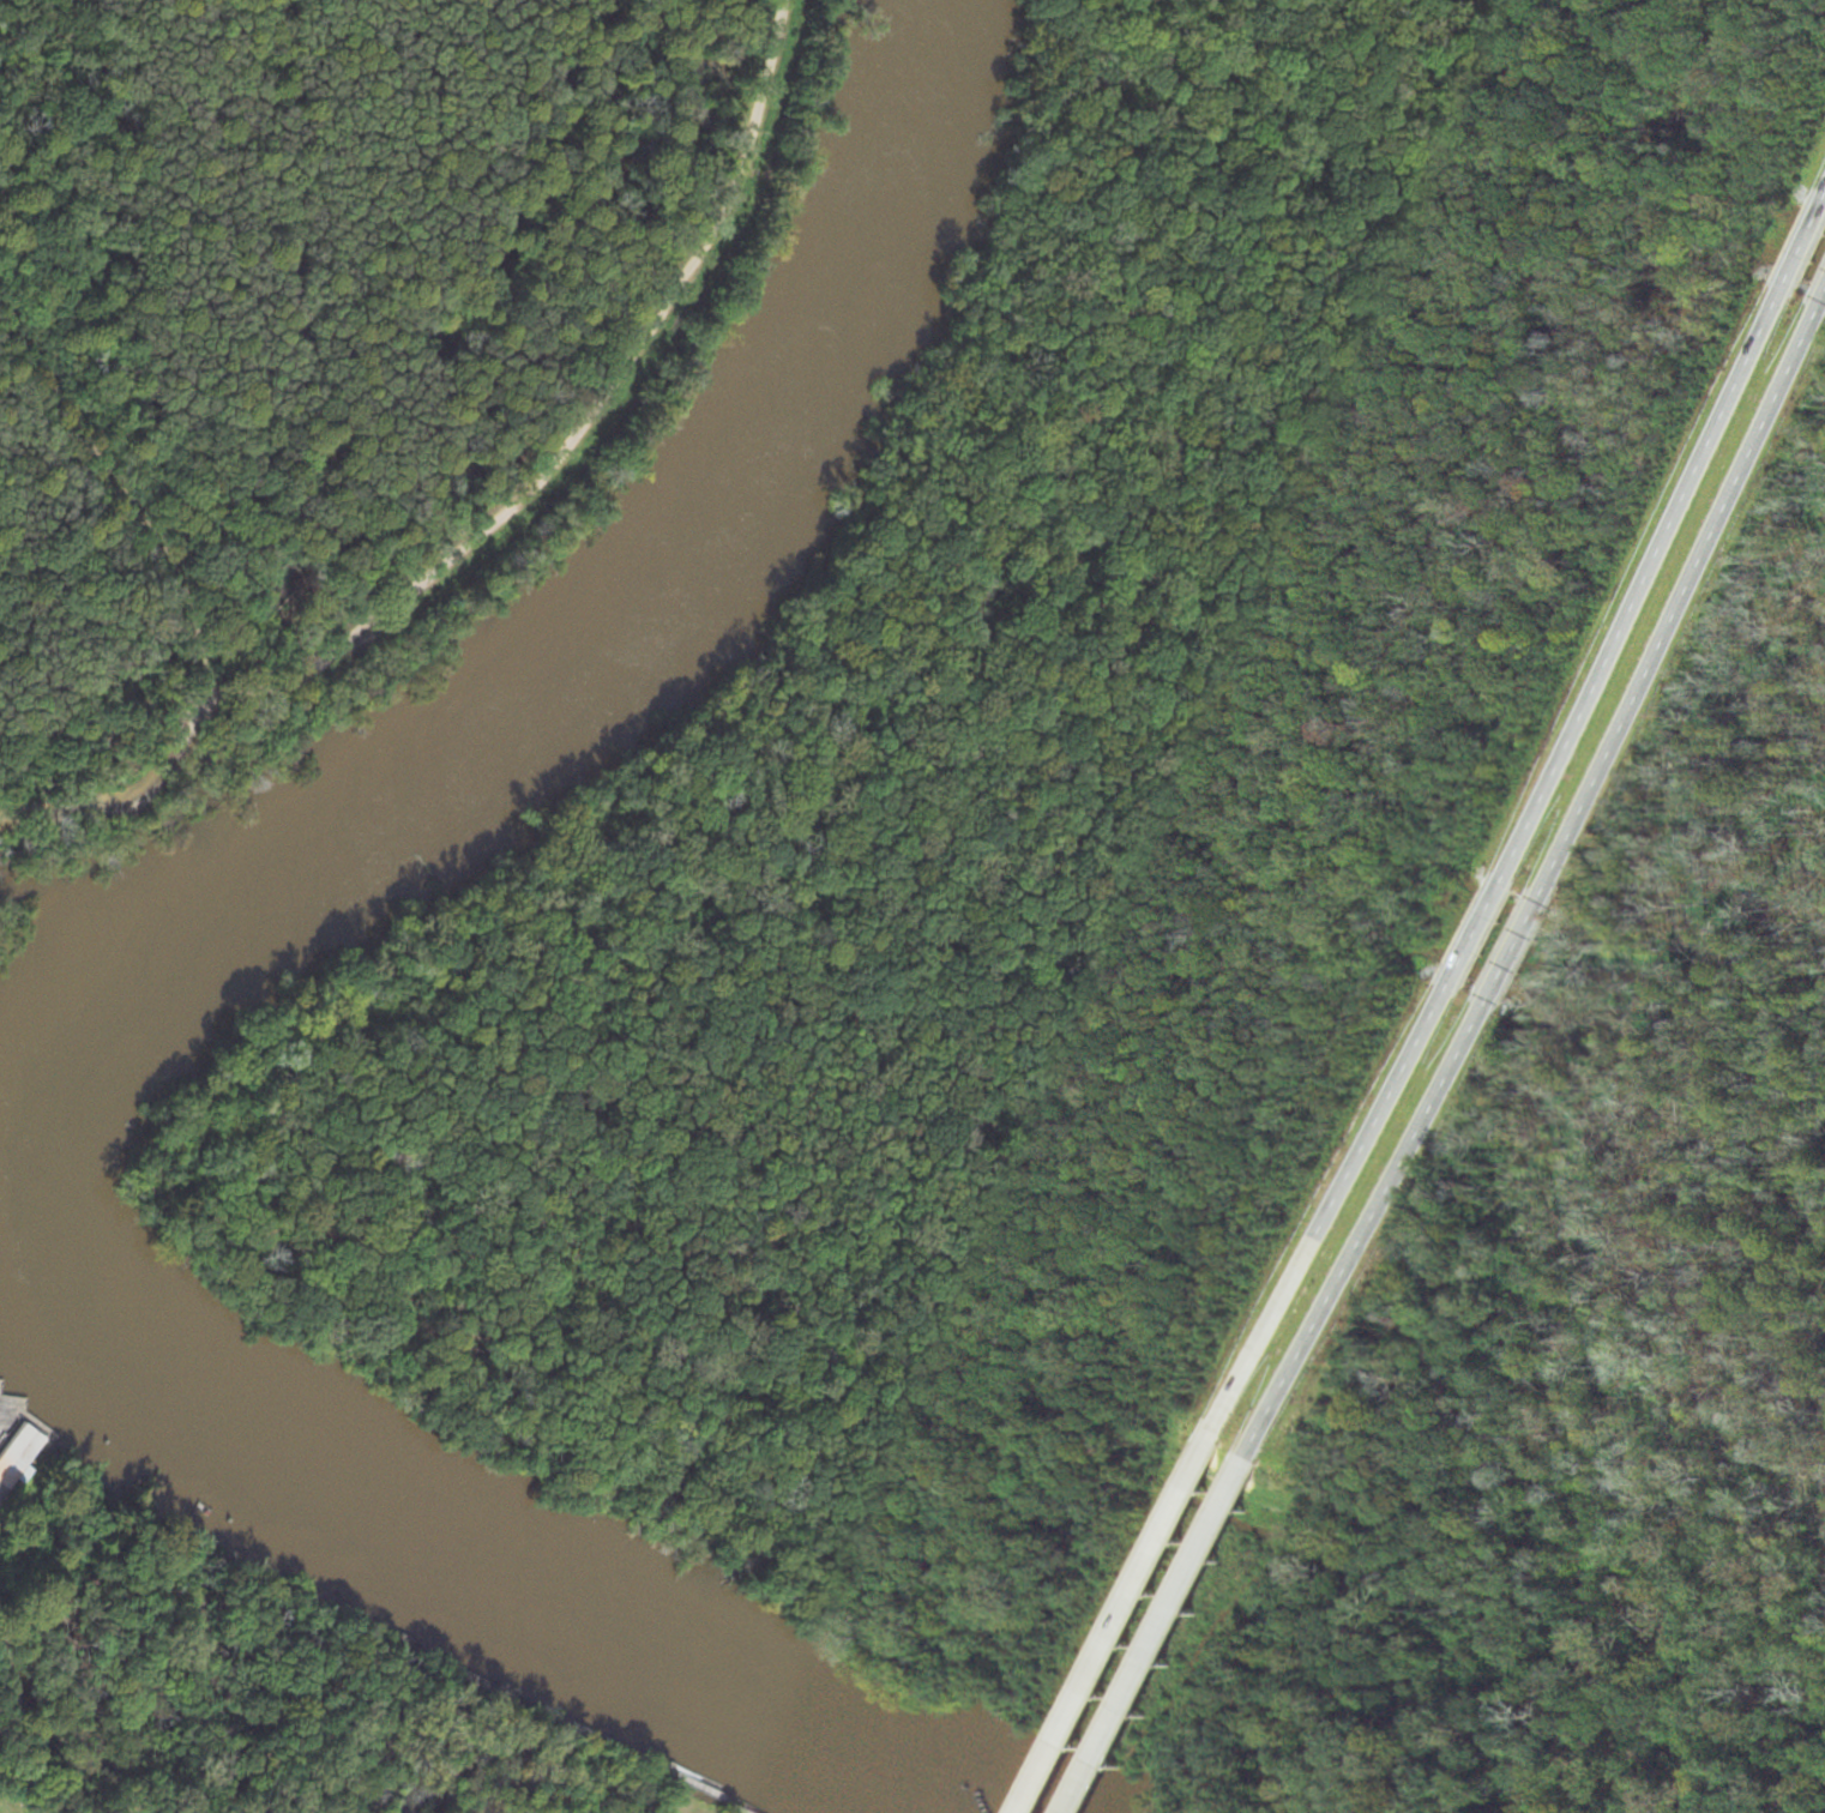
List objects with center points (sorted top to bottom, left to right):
road: (1805, 242)
road: (1823, 300)
road: (108, 522)
road: (520, 524)
road: (1645, 585)
road: (1680, 604)
road: (1478, 935)
road: (1516, 953)
river: (77, 993)
road: (1341, 1211)
road: (1377, 1231)
building: (22, 1454)
road: (1131, 1625)
road: (1170, 1637)
building: (1823, 1709)

